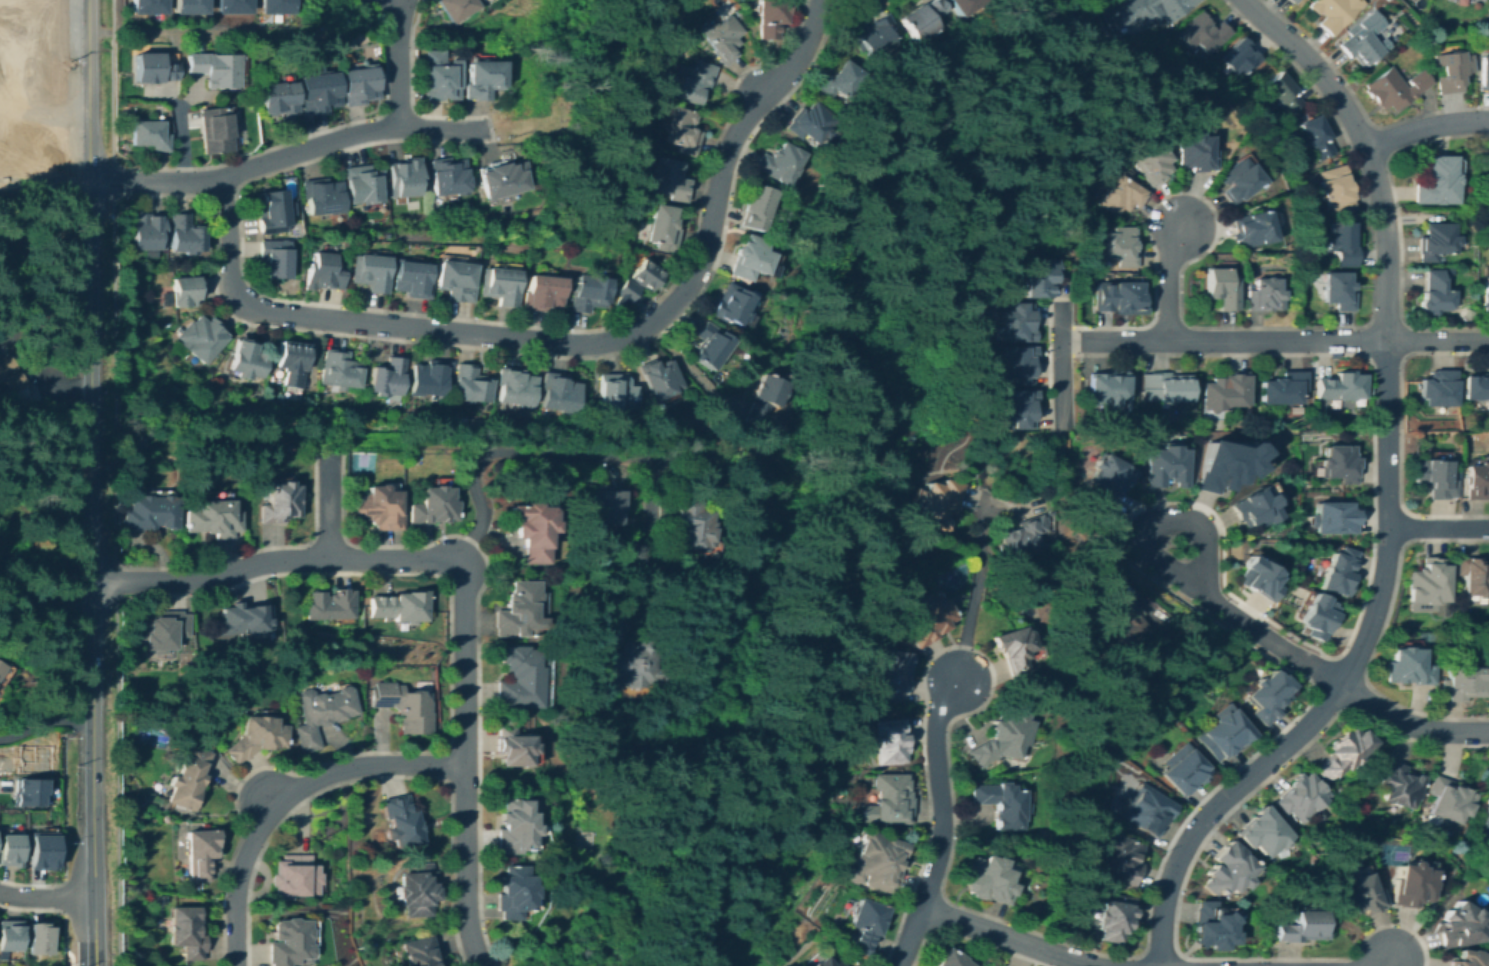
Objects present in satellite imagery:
road: (398, 0)
building: (1290, 1)
building: (1294, 1)
building: (1457, 2)
building: (273, 5)
building: (963, 5)
building: (144, 6)
building: (186, 6)
building: (228, 6)
road: (387, 7)
building: (454, 8)
building: (1144, 11)
building: (1333, 12)
building: (769, 17)
building: (923, 18)
road: (209, 30)
building: (1202, 33)
building: (875, 36)
building: (722, 38)
building: (1359, 47)
road: (98, 48)
building: (1240, 56)
road: (398, 63)
road: (10, 65)
building: (150, 68)
building: (213, 69)
building: (1451, 70)
building: (1484, 71)
building: (440, 75)
building: (485, 77)
building: (692, 80)
building: (840, 81)
building: (359, 85)
building: (1394, 88)
building: (318, 92)
building: (1282, 92)
building: (276, 97)
road: (397, 110)
road: (64, 111)
building: (810, 121)
road: (1426, 128)
building: (215, 129)
building: (679, 130)
building: (148, 134)
building: (1317, 137)
road: (177, 142)
building: (1194, 152)
road: (234, 157)
building: (1486, 160)
building: (781, 162)
building: (1148, 162)
road: (244, 168)
building: (448, 176)
building: (404, 177)
building: (504, 177)
building: (667, 178)
building: (1238, 179)
road: (115, 180)
building: (1438, 181)
building: (362, 184)
building: (1335, 188)
road: (215, 191)
building: (1119, 195)
building: (322, 196)
building: (757, 207)
building: (271, 210)
building: (661, 226)
building: (1252, 228)
building: (146, 230)
building: (184, 233)
building: (1342, 241)
building: (1437, 241)
building: (1118, 246)
building: (274, 257)
building: (753, 258)
building: (369, 271)
building: (322, 272)
building: (645, 273)
building: (411, 278)
building: (1040, 278)
building: (455, 279)
road: (1169, 280)
building: (501, 284)
building: (1221, 287)
building: (626, 289)
building: (184, 290)
building: (1338, 290)
building: (587, 291)
building: (543, 292)
road: (44, 293)
road: (215, 294)
building: (1434, 294)
building: (1486, 294)
building: (1264, 295)
building: (1118, 297)
road: (342, 305)
building: (734, 305)
building: (1017, 323)
building: (202, 337)
road: (1273, 341)
road: (569, 343)
building: (711, 344)
building: (246, 359)
road: (89, 361)
road: (1059, 361)
building: (291, 362)
building: (1019, 365)
building: (338, 369)
building: (428, 376)
building: (387, 377)
building: (659, 377)
building: (10, 378)
building: (469, 383)
building: (1340, 385)
building: (514, 386)
building: (1166, 386)
building: (1476, 386)
building: (1283, 388)
building: (1439, 388)
building: (1110, 390)
building: (558, 391)
building: (1225, 391)
building: (616, 392)
building: (766, 401)
building: (1018, 409)
road: (563, 457)
park: (362, 463)
building: (1338, 463)
building: (1168, 464)
building: (1223, 464)
building: (1111, 478)
building: (1433, 478)
building: (1476, 481)
road: (1388, 497)
building: (279, 501)
road: (328, 502)
building: (433, 505)
building: (605, 505)
building: (940, 505)
building: (380, 507)
building: (1255, 510)
building: (150, 512)
building: (1335, 517)
building: (213, 518)
road: (1158, 520)
building: (696, 526)
building: (534, 528)
road: (1438, 529)
building: (1022, 535)
road: (277, 559)
building: (1341, 571)
road: (384, 572)
building: (1473, 575)
building: (1262, 577)
road: (116, 581)
building: (1429, 586)
road: (975, 591)
road: (45, 594)
building: (329, 605)
building: (399, 605)
building: (519, 611)
road: (1258, 615)
building: (1320, 615)
building: (1124, 617)
building: (242, 618)
building: (929, 621)
building: (162, 629)
road: (476, 637)
building: (1014, 650)
building: (0, 664)
building: (634, 664)
building: (1407, 666)
building: (1, 667)
building: (895, 674)
building: (518, 677)
road: (1332, 678)
building: (1460, 682)
building: (1487, 688)
building: (1270, 695)
building: (403, 705)
building: (321, 714)
road: (44, 721)
building: (1223, 732)
building: (256, 736)
park: (151, 737)
building: (1002, 738)
building: (889, 741)
building: (514, 747)
building: (1343, 752)
building: (31, 758)
road: (465, 763)
building: (1183, 769)
building: (188, 775)
road: (372, 775)
building: (1398, 784)
building: (27, 792)
road: (287, 796)
building: (1302, 796)
building: (890, 799)
building: (1447, 800)
building: (1002, 803)
building: (1484, 806)
building: (1146, 810)
building: (401, 821)
road: (942, 824)
road: (62, 827)
building: (516, 827)
building: (1264, 831)
road: (93, 844)
building: (10, 850)
building: (200, 851)
building: (41, 852)
park: (1393, 854)
building: (1118, 860)
building: (877, 861)
building: (1229, 870)
building: (294, 875)
building: (988, 879)
building: (1412, 884)
building: (417, 889)
building: (515, 892)
building: (1360, 894)
road: (46, 897)
building: (1114, 917)
building: (864, 924)
building: (1460, 926)
building: (1213, 927)
building: (1302, 927)
building: (186, 931)
building: (11, 935)
road: (1007, 937)
building: (39, 938)
road: (972, 938)
building: (289, 941)
building: (420, 951)
road: (69, 955)
building: (949, 958)
building: (1471, 959)
building: (825, 962)
road: (1386, 963)

